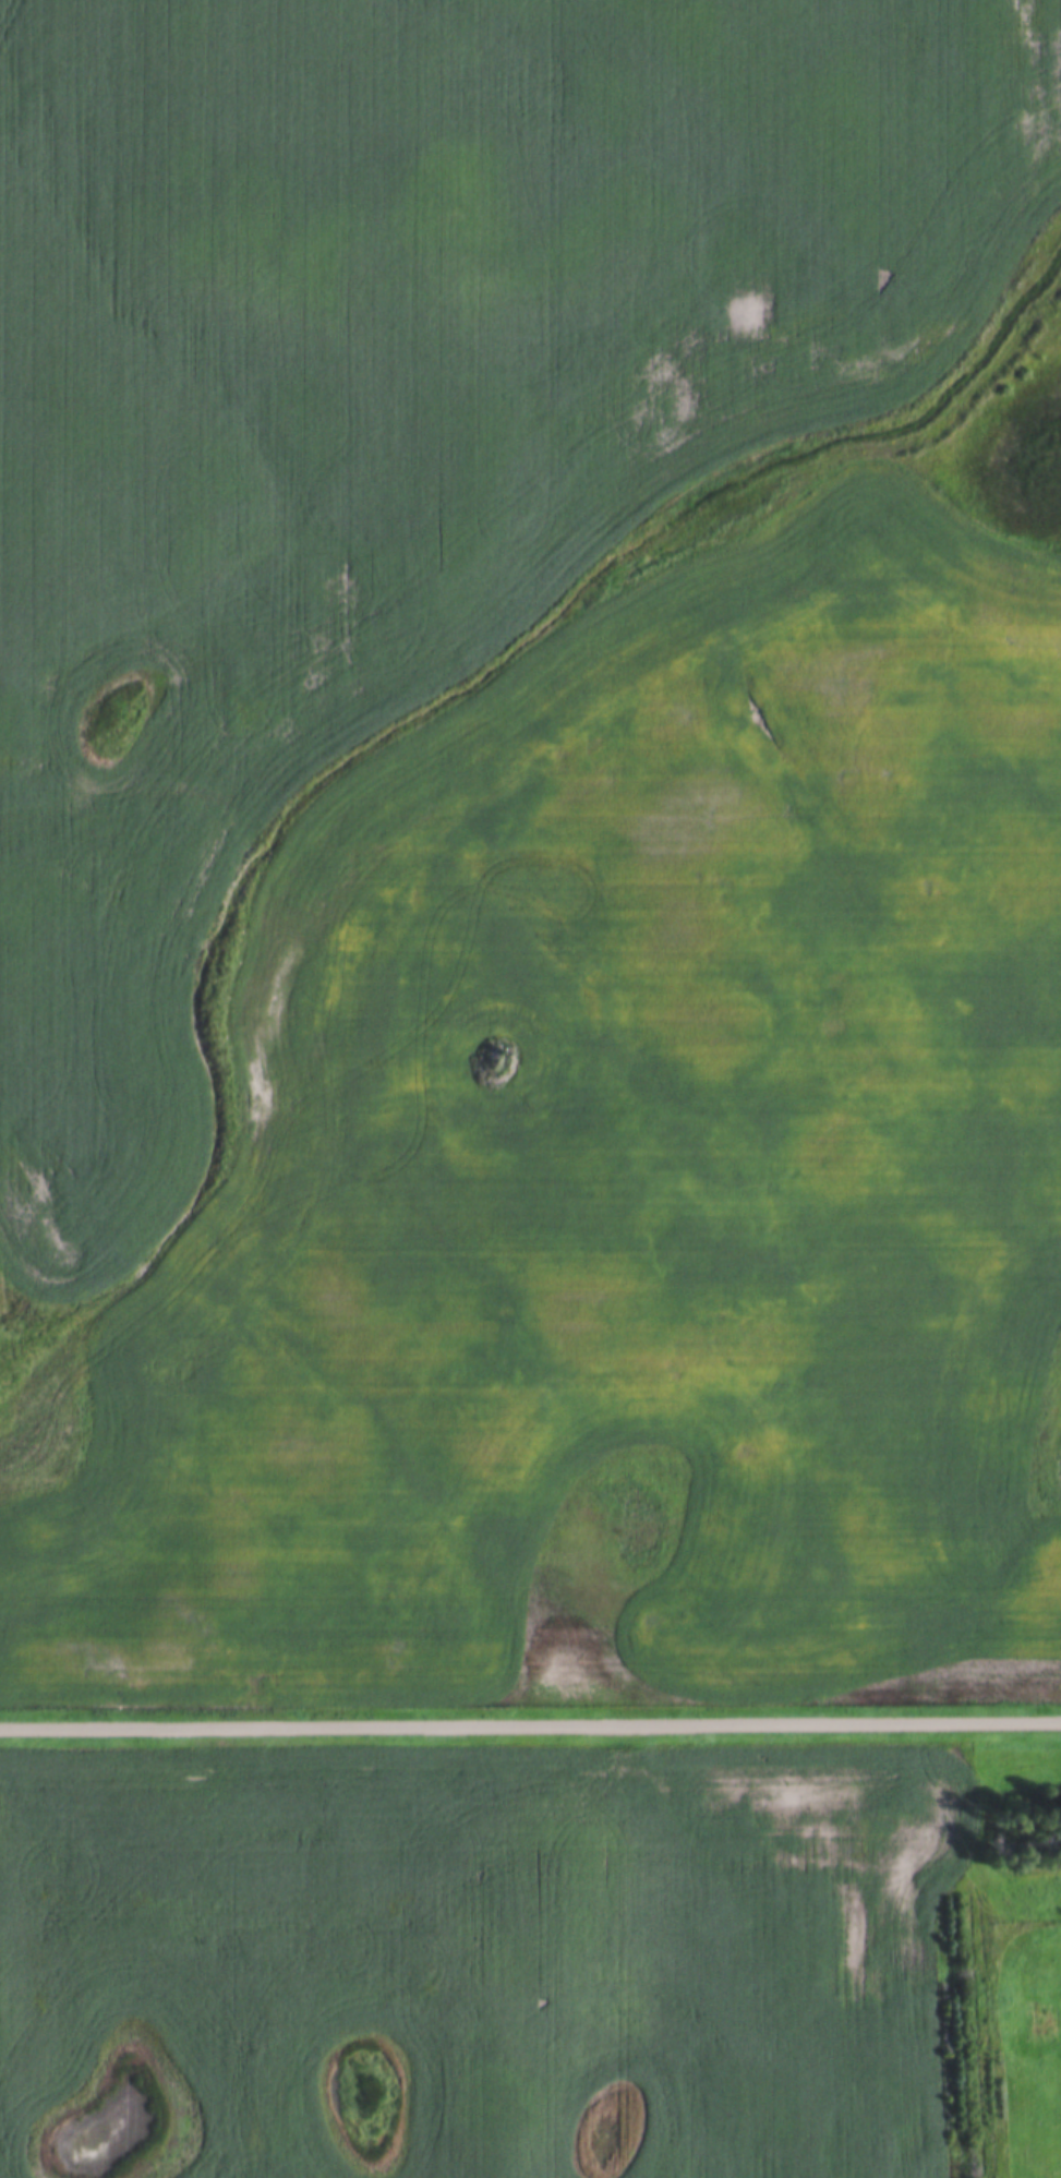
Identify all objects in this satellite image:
road: (530, 1723)

